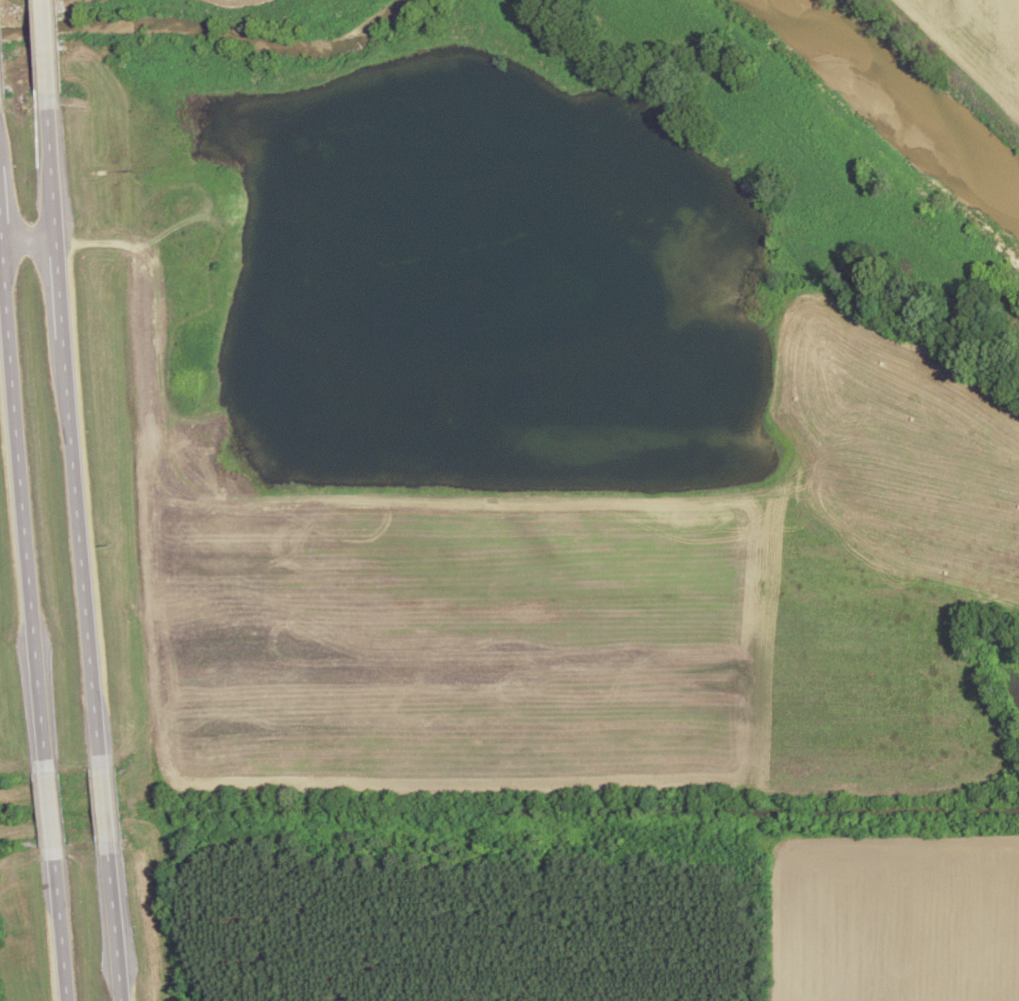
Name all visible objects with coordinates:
road: (47, 55)
river: (894, 108)
road: (53, 173)
road: (2, 210)
road: (30, 237)
road: (61, 288)
road: (25, 500)
road: (82, 547)
road: (104, 805)
road: (50, 811)
road: (115, 928)
road: (60, 931)

